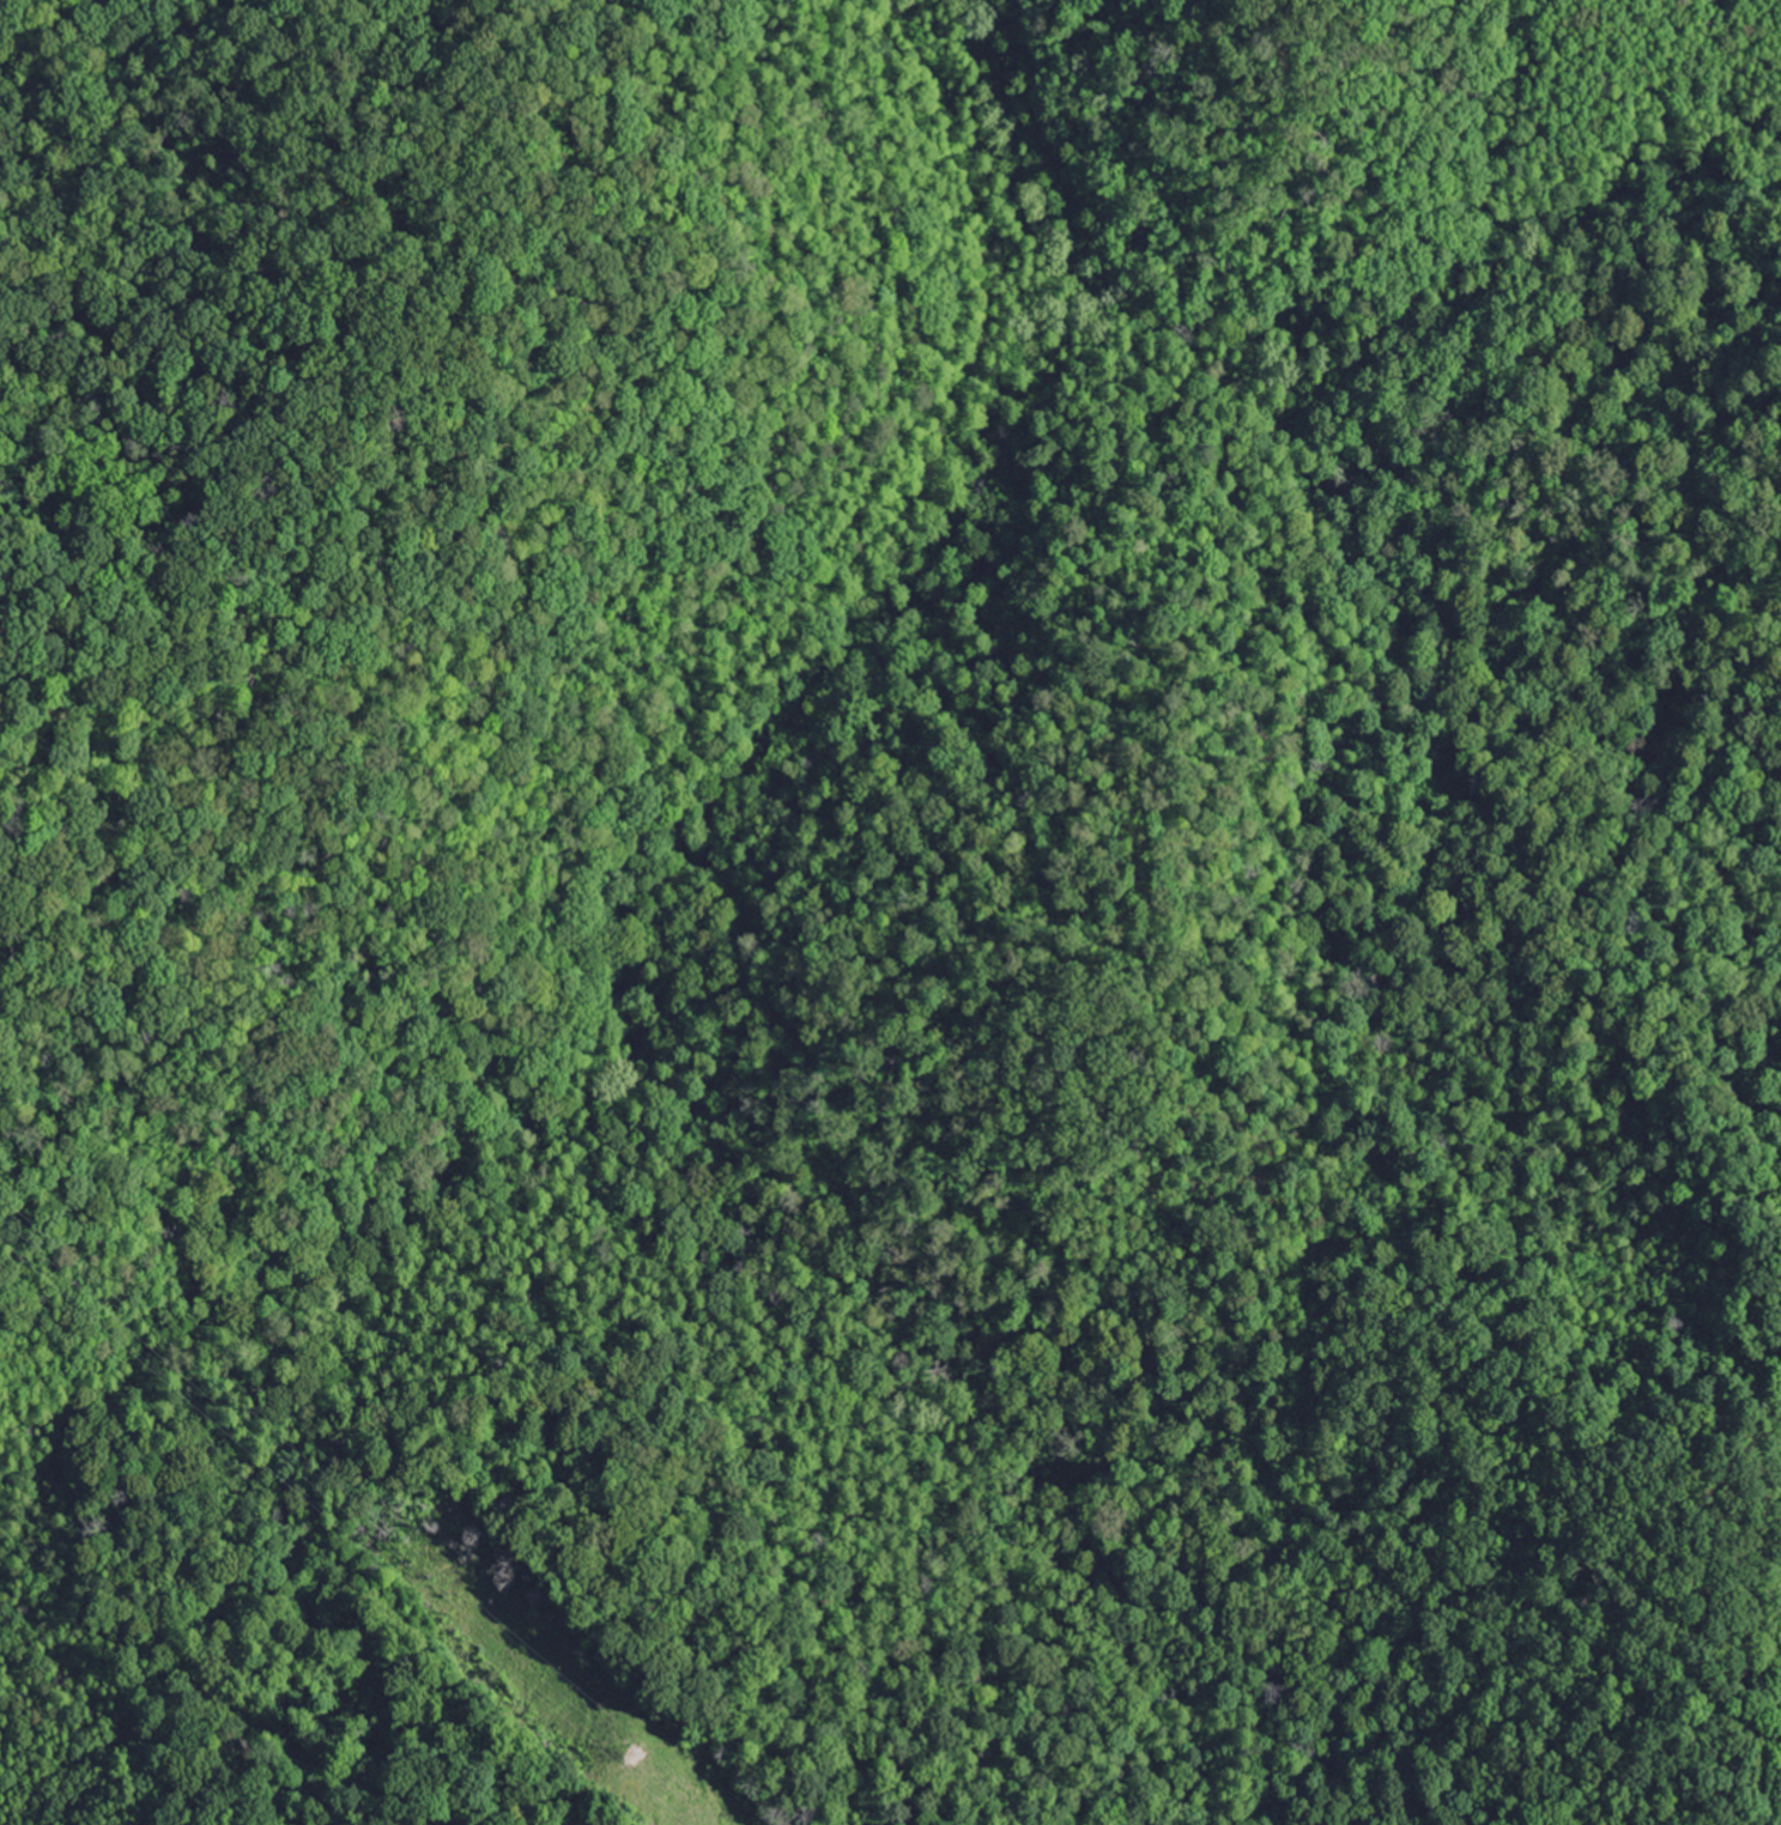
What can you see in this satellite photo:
power tower: (630, 1759)

